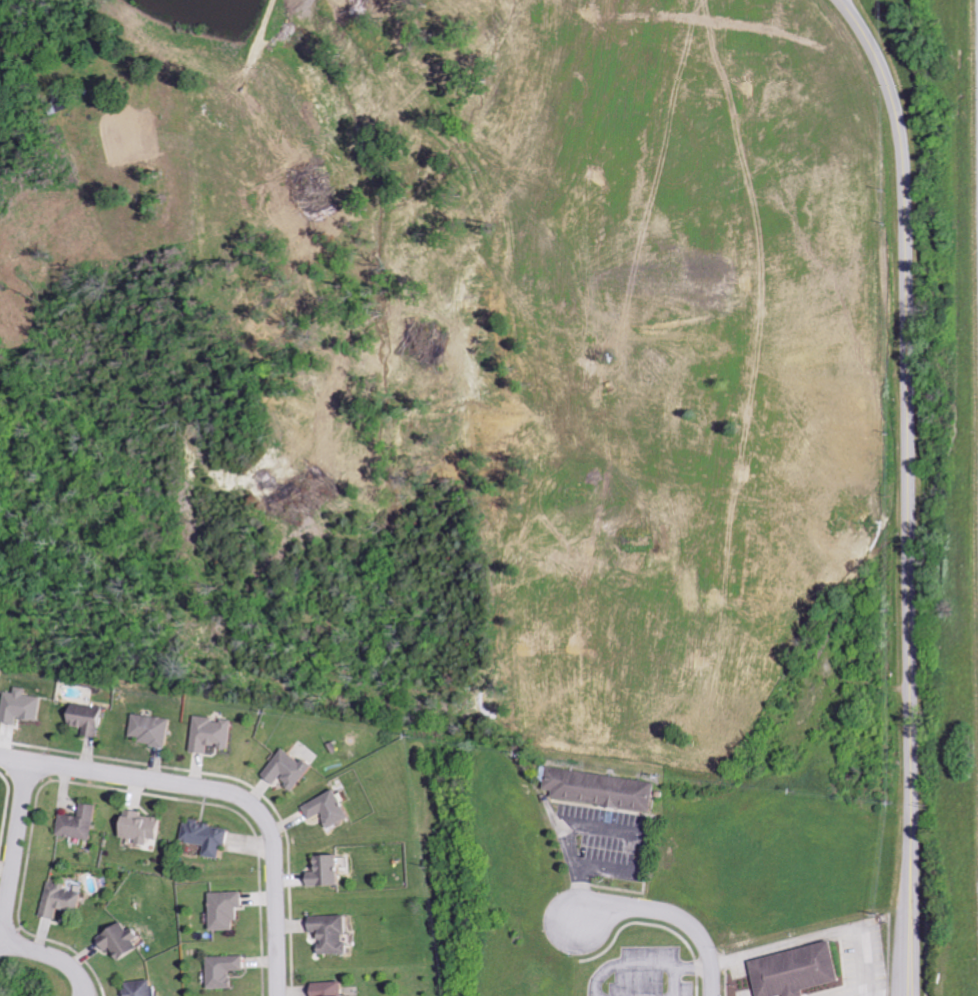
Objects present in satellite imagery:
road: (908, 490)
building: (23, 706)
building: (89, 719)
building: (146, 730)
building: (205, 734)
building: (282, 770)
building: (596, 789)
road: (223, 793)
building: (322, 809)
building: (82, 823)
building: (136, 828)
road: (622, 830)
road: (11, 831)
building: (203, 838)
building: (318, 872)
road: (576, 892)
building: (63, 901)
building: (221, 910)
road: (667, 917)
building: (326, 933)
building: (125, 942)
road: (53, 955)
building: (220, 971)
building: (790, 971)
building: (145, 988)
building: (324, 989)

